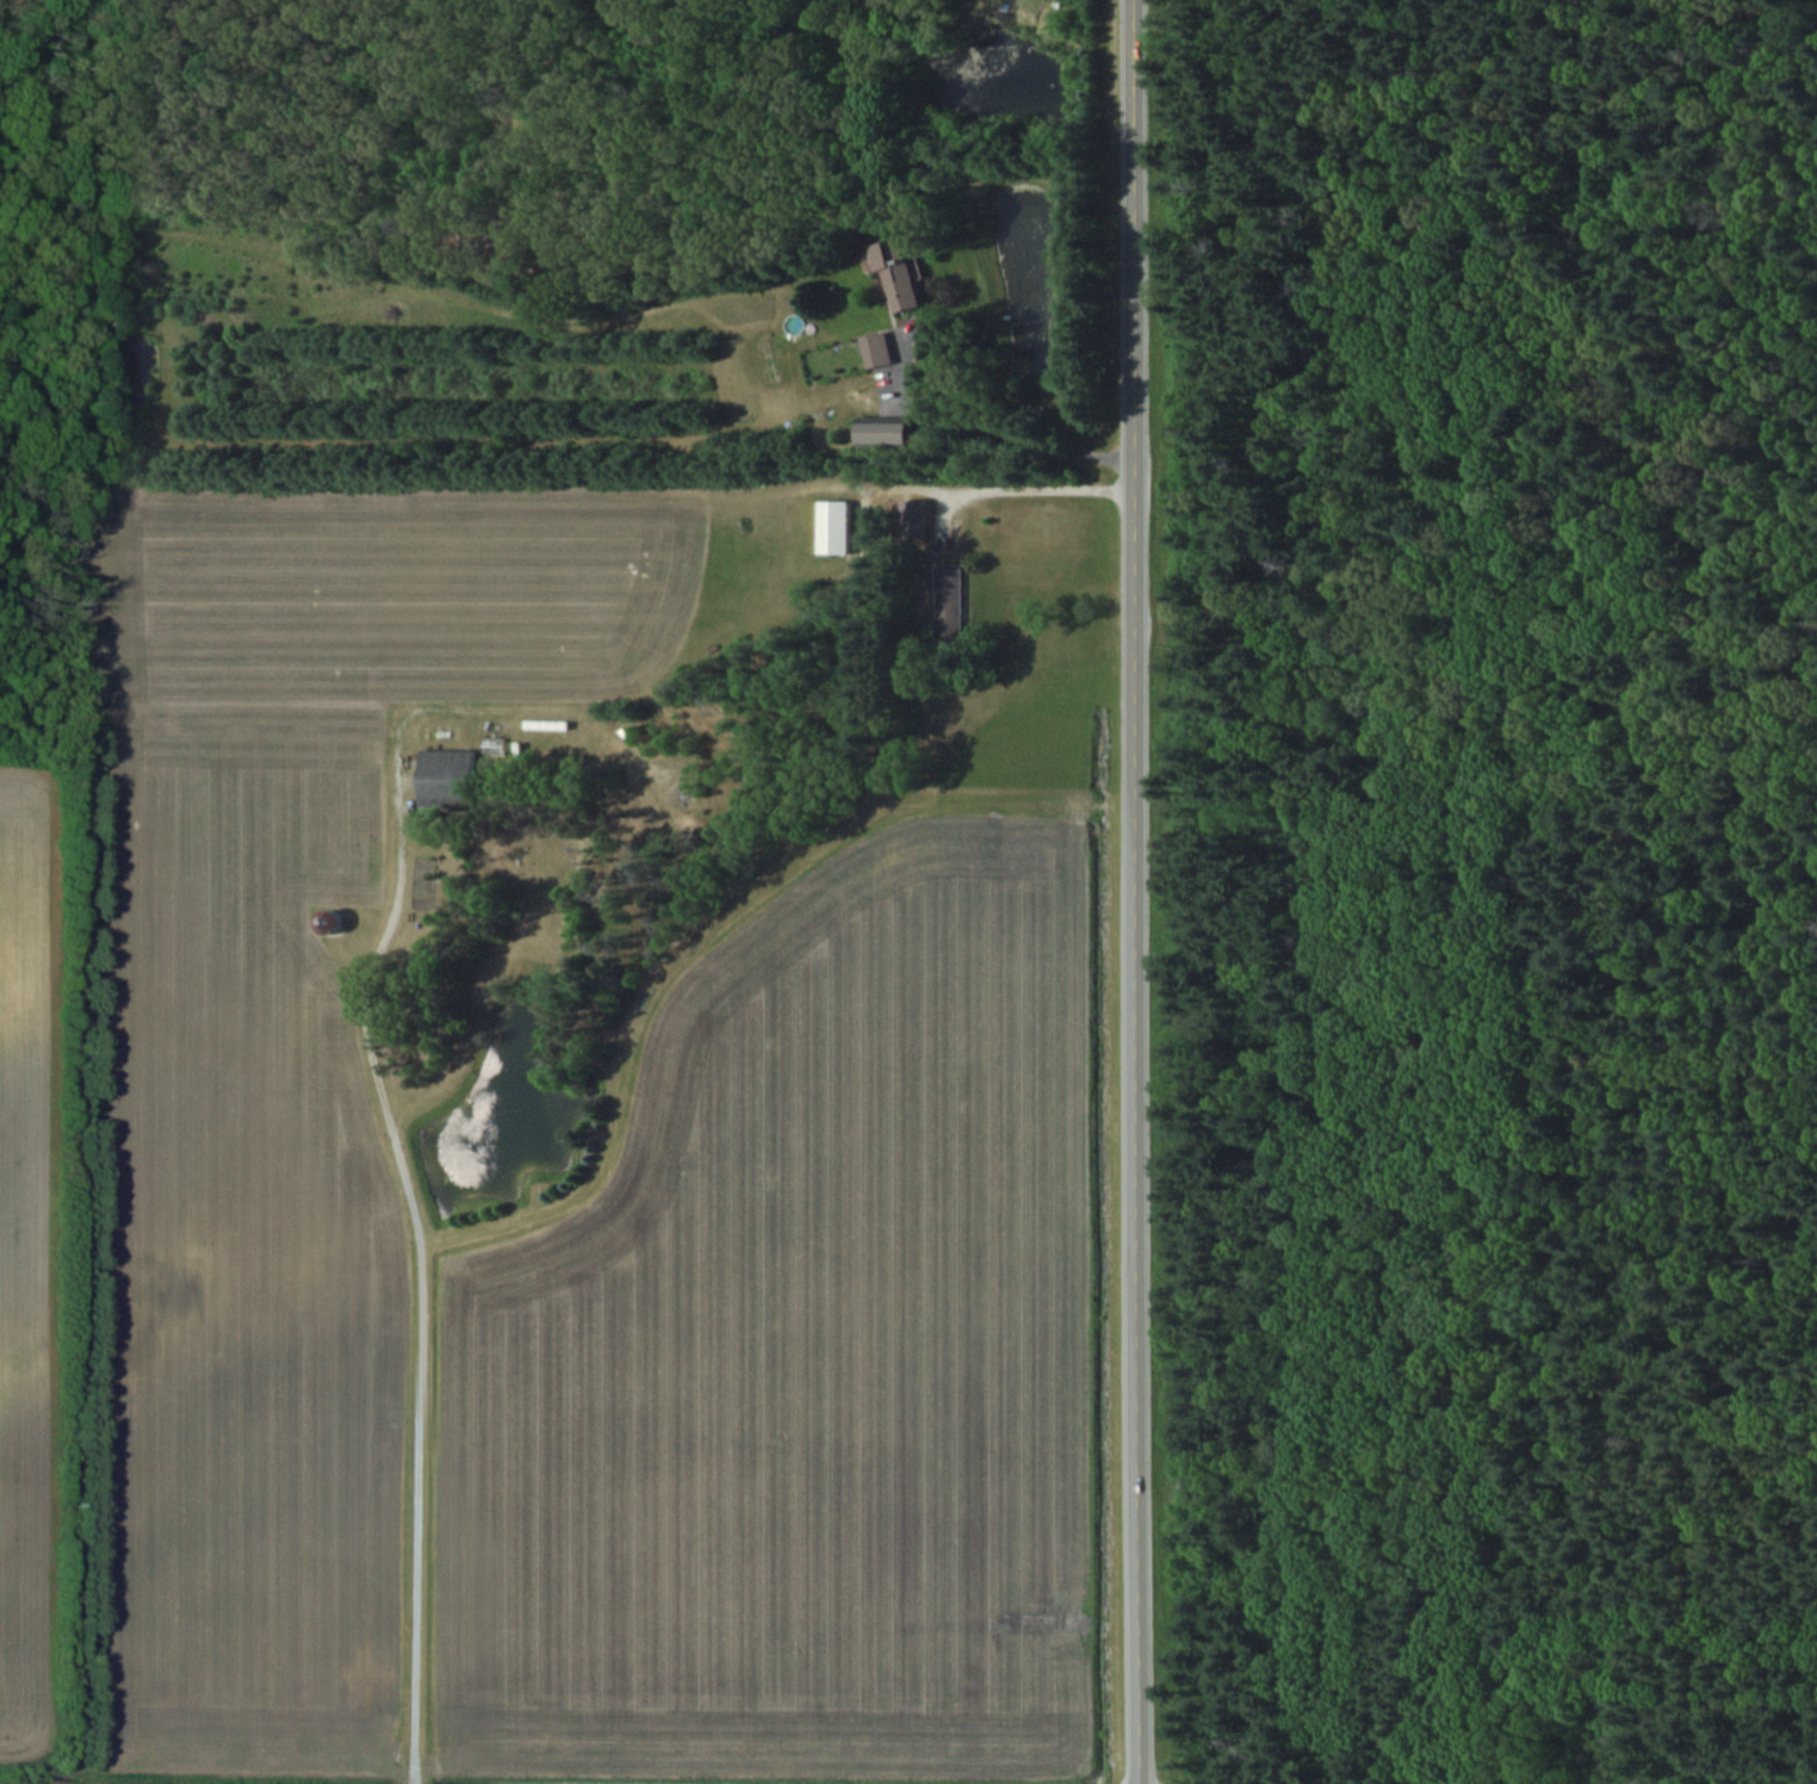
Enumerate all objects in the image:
building: (898, 277)
building: (878, 348)
building: (888, 434)
road: (1006, 490)
building: (914, 519)
building: (833, 527)
building: (950, 600)
building: (447, 779)
road: (1133, 892)
building: (330, 921)
road: (427, 1274)

